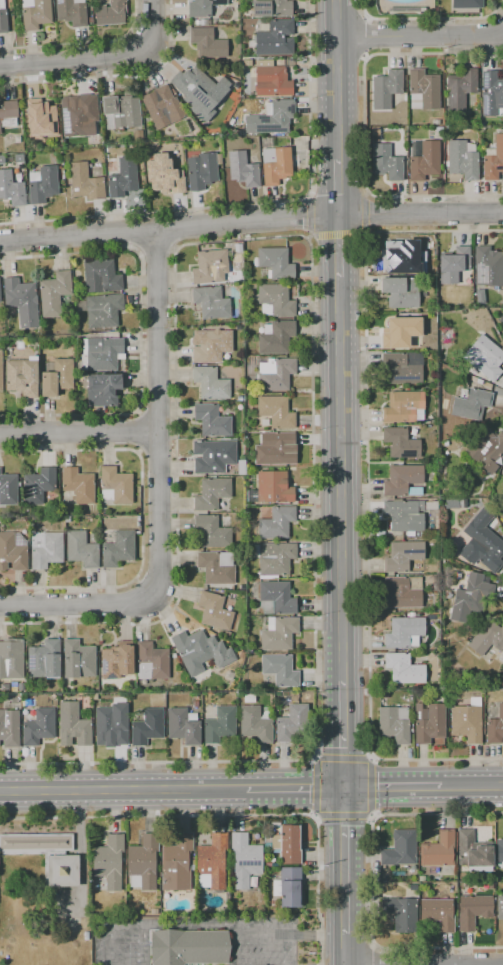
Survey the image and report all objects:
building: (467, 4)
building: (203, 7)
building: (271, 8)
building: (72, 12)
building: (111, 12)
building: (35, 13)
building: (3, 18)
road: (429, 18)
road: (336, 19)
building: (201, 22)
road: (154, 25)
road: (419, 35)
road: (368, 37)
building: (274, 38)
road: (82, 42)
building: (207, 43)
building: (247, 47)
road: (77, 57)
road: (117, 77)
building: (273, 77)
building: (192, 82)
building: (386, 89)
building: (460, 89)
building: (424, 90)
building: (492, 93)
road: (337, 99)
building: (160, 106)
building: (121, 112)
building: (8, 115)
building: (76, 115)
building: (271, 118)
building: (41, 119)
building: (436, 122)
road: (363, 125)
building: (375, 131)
building: (266, 141)
building: (424, 160)
building: (462, 160)
building: (494, 161)
building: (386, 163)
building: (278, 165)
building: (243, 169)
building: (203, 170)
building: (168, 174)
building: (123, 177)
building: (85, 182)
building: (42, 184)
road: (338, 188)
building: (11, 189)
road: (252, 203)
road: (251, 221)
road: (173, 229)
road: (136, 232)
road: (362, 234)
road: (334, 235)
road: (309, 237)
road: (157, 250)
building: (399, 254)
road: (339, 257)
building: (276, 263)
building: (454, 265)
building: (211, 266)
building: (488, 267)
building: (434, 272)
building: (101, 276)
building: (401, 292)
building: (54, 293)
building: (0, 298)
building: (276, 300)
building: (22, 301)
building: (212, 301)
building: (103, 310)
building: (243, 310)
road: (311, 319)
road: (140, 331)
building: (400, 332)
building: (275, 337)
building: (446, 337)
building: (211, 346)
building: (102, 354)
building: (485, 358)
building: (403, 367)
building: (0, 370)
building: (275, 373)
building: (22, 377)
building: (57, 378)
building: (210, 383)
building: (104, 390)
road: (158, 402)
building: (472, 404)
building: (404, 407)
building: (276, 411)
road: (155, 414)
building: (212, 421)
road: (137, 431)
road: (77, 436)
building: (401, 443)
building: (275, 448)
building: (486, 449)
road: (156, 450)
building: (213, 456)
building: (241, 467)
building: (403, 481)
building: (38, 485)
building: (78, 485)
building: (116, 485)
building: (272, 488)
building: (8, 489)
road: (341, 490)
road: (367, 492)
building: (212, 493)
building: (431, 505)
building: (404, 515)
road: (142, 516)
building: (276, 523)
building: (212, 531)
building: (482, 543)
building: (45, 549)
building: (81, 549)
building: (118, 549)
building: (13, 551)
building: (405, 557)
building: (275, 559)
building: (216, 567)
building: (229, 587)
building: (403, 592)
building: (448, 595)
building: (471, 597)
building: (276, 598)
road: (77, 601)
building: (214, 611)
building: (431, 618)
building: (471, 619)
building: (404, 632)
building: (279, 633)
building: (224, 634)
building: (487, 638)
building: (193, 648)
building: (44, 659)
building: (116, 659)
building: (78, 660)
building: (11, 662)
building: (151, 662)
building: (280, 669)
building: (404, 669)
building: (225, 675)
building: (502, 684)
building: (385, 693)
building: (225, 698)
building: (196, 704)
building: (429, 722)
building: (292, 723)
building: (466, 723)
building: (255, 724)
building: (394, 724)
building: (74, 725)
building: (220, 725)
building: (111, 726)
building: (183, 726)
building: (39, 727)
building: (148, 727)
building: (9, 728)
building: (495, 728)
road: (343, 734)
road: (343, 756)
road: (472, 786)
road: (316, 787)
road: (392, 787)
road: (294, 788)
road: (371, 788)
road: (123, 790)
road: (154, 816)
road: (343, 820)
building: (36, 844)
building: (290, 844)
road: (79, 849)
building: (400, 849)
building: (439, 850)
building: (474, 850)
building: (500, 851)
building: (245, 860)
building: (109, 861)
building: (143, 862)
building: (177, 863)
building: (212, 863)
building: (61, 870)
road: (344, 876)
building: (421, 879)
road: (371, 880)
building: (288, 887)
road: (316, 892)
building: (227, 896)
building: (500, 907)
building: (474, 911)
building: (439, 913)
building: (401, 914)
road: (225, 924)
road: (112, 929)
building: (189, 947)
road: (374, 955)

